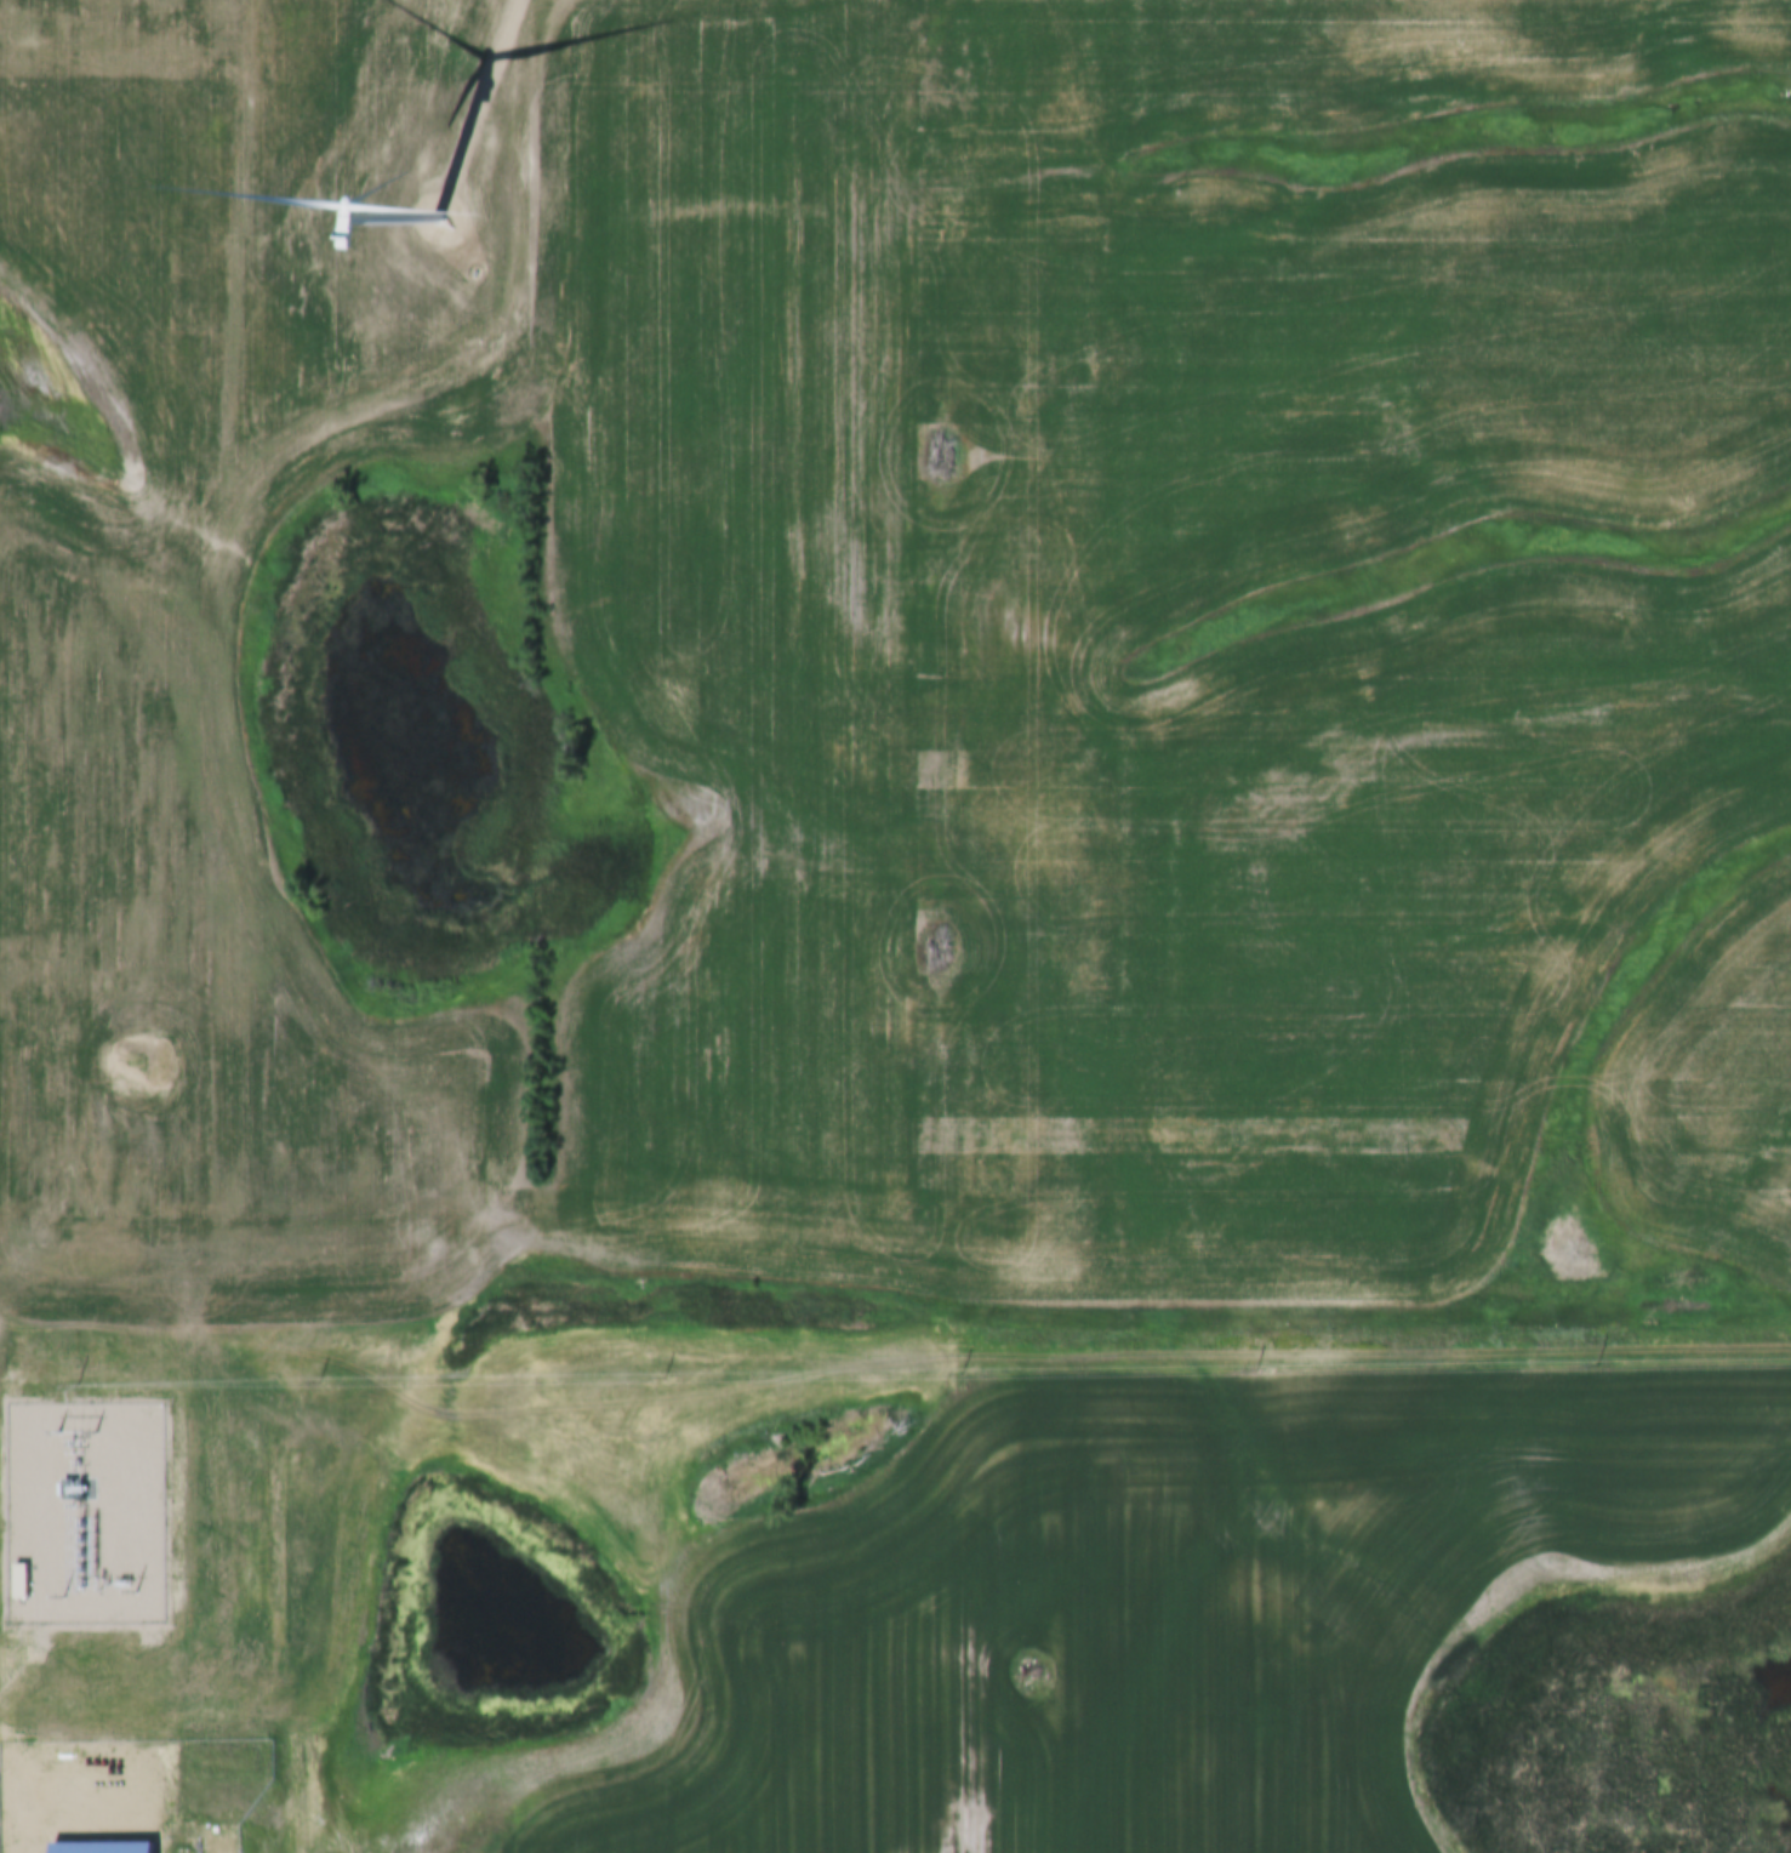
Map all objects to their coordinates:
wind turbine: (400, 240)
road: (216, 1241)
power substation: (79, 1515)
building: (101, 1847)

